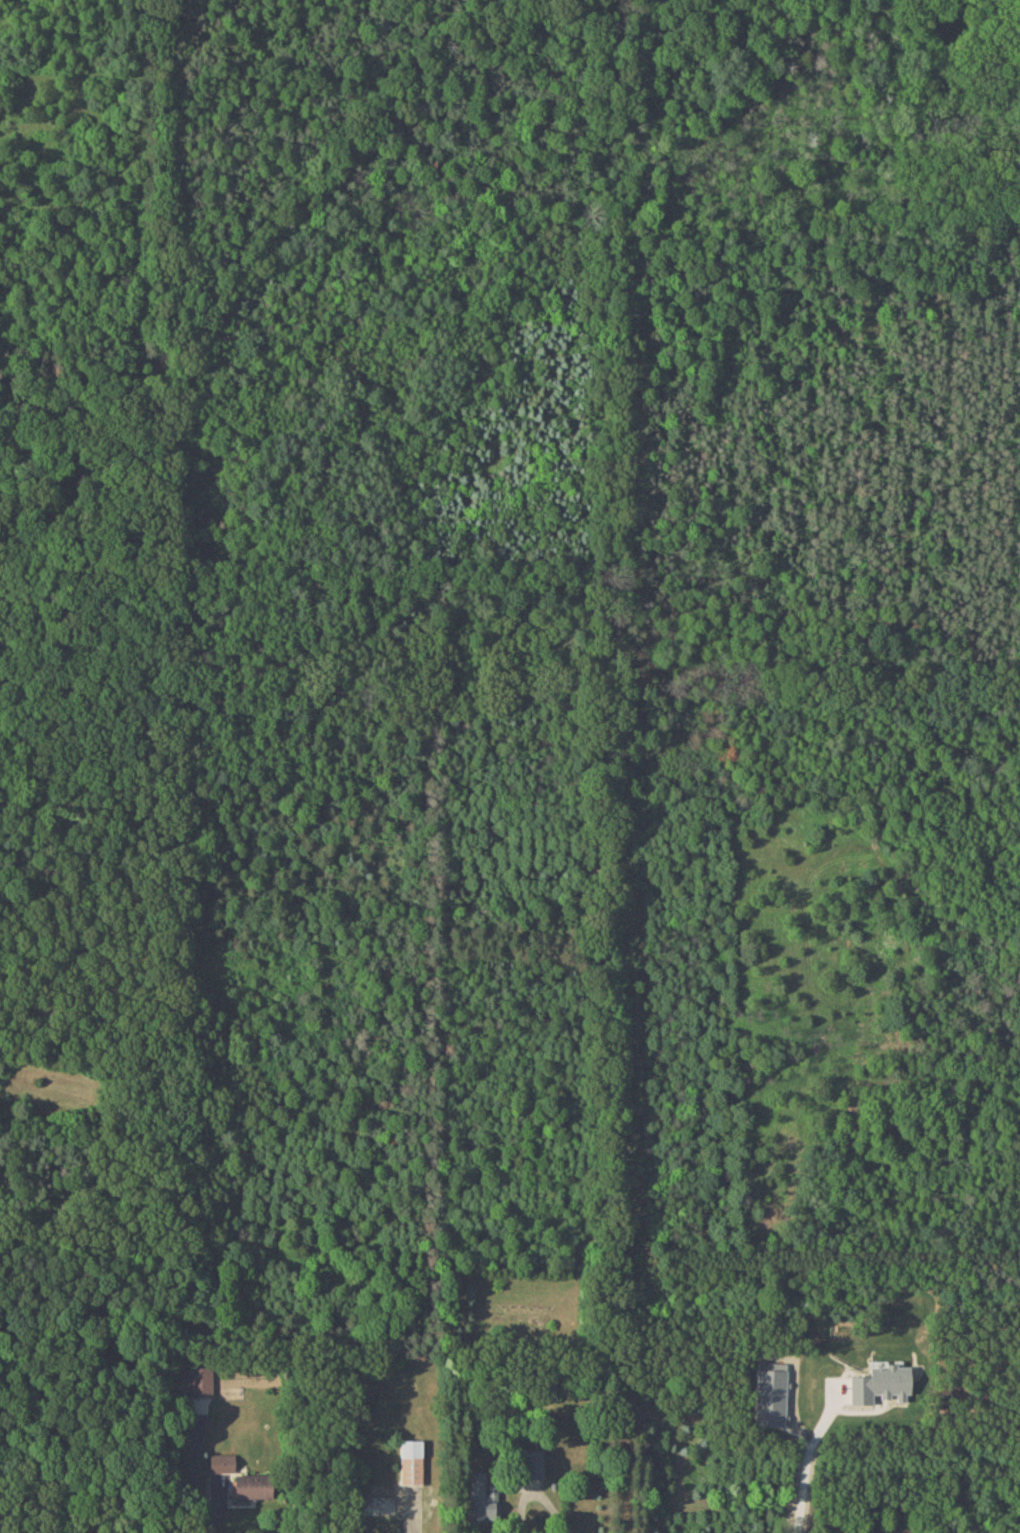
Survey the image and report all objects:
building: (197, 1380)
building: (880, 1384)
building: (770, 1394)
building: (411, 1461)
building: (221, 1462)
building: (531, 1463)
road: (804, 1477)
building: (252, 1487)
building: (482, 1495)
road: (536, 1495)

